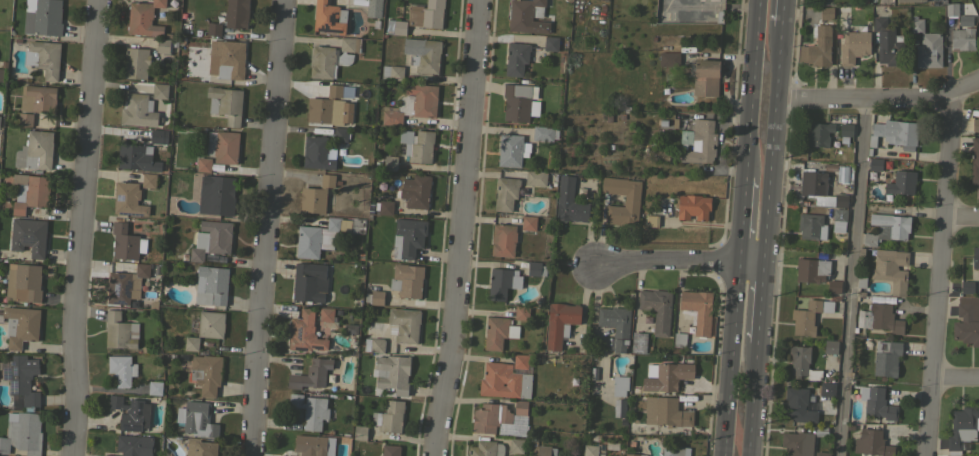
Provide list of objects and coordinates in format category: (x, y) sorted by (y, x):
building: (911, 0)
building: (373, 8)
building: (951, 8)
building: (978, 11)
building: (236, 13)
building: (826, 13)
building: (427, 14)
road: (782, 14)
building: (669, 15)
building: (527, 16)
building: (328, 17)
rooftop solar panel: (331, 17)
building: (44, 18)
building: (143, 18)
building: (965, 19)
building: (395, 26)
building: (217, 29)
rooftop solar panel: (326, 29)
building: (963, 38)
building: (550, 43)
building: (888, 43)
building: (163, 45)
building: (854, 45)
building: (926, 45)
building: (818, 47)
building: (422, 54)
building: (44, 57)
building: (331, 57)
building: (228, 58)
building: (516, 58)
building: (669, 59)
building: (136, 63)
building: (2, 71)
building: (392, 72)
building: (705, 76)
road: (747, 88)
building: (160, 91)
building: (40, 98)
road: (878, 99)
building: (518, 101)
building: (225, 103)
building: (412, 104)
building: (329, 107)
building: (138, 110)
building: (25, 119)
building: (0, 122)
building: (975, 124)
building: (846, 129)
building: (894, 132)
building: (542, 133)
building: (340, 134)
building: (818, 134)
building: (158, 135)
building: (698, 141)
road: (771, 143)
building: (417, 145)
building: (223, 146)
building: (511, 149)
building: (35, 151)
building: (318, 153)
building: (662, 154)
building: (137, 156)
building: (974, 160)
building: (390, 162)
building: (203, 164)
building: (875, 164)
building: (820, 166)
building: (831, 171)
building: (843, 174)
building: (536, 177)
building: (148, 180)
building: (901, 182)
building: (819, 189)
building: (30, 192)
building: (416, 193)
building: (506, 193)
building: (216, 195)
building: (316, 195)
rooftop solar panel: (120, 196)
building: (128, 199)
building: (631, 199)
building: (569, 202)
building: (693, 206)
building: (385, 207)
rooftop solar panel: (130, 213)
road: (963, 214)
building: (839, 215)
road: (737, 218)
building: (652, 220)
building: (528, 222)
building: (811, 226)
road: (82, 228)
road: (266, 228)
road: (460, 228)
building: (887, 228)
building: (838, 229)
building: (324, 235)
building: (29, 236)
building: (408, 236)
rooftop solar panel: (28, 238)
building: (211, 239)
building: (503, 240)
building: (126, 242)
road: (680, 258)
building: (975, 258)
building: (536, 268)
building: (812, 269)
building: (891, 269)
rooftop solar panel: (121, 273)
road: (943, 275)
road: (854, 277)
building: (407, 280)
building: (309, 282)
building: (502, 282)
building: (860, 282)
building: (23, 283)
building: (126, 284)
building: (211, 285)
building: (834, 286)
rooftop solar panel: (117, 287)
rooftop solar panel: (126, 287)
building: (966, 287)
building: (374, 297)
rooftop solar panel: (120, 300)
road: (762, 301)
building: (657, 309)
building: (698, 310)
building: (521, 313)
building: (326, 314)
building: (809, 316)
building: (879, 318)
building: (967, 320)
building: (559, 322)
building: (210, 324)
building: (404, 324)
building: (20, 325)
building: (616, 325)
building: (120, 331)
rooftop solar panel: (299, 332)
building: (304, 332)
building: (498, 332)
building: (679, 339)
building: (638, 342)
building: (191, 343)
building: (374, 344)
rooftop solar panel: (315, 346)
rooftop solar panel: (300, 347)
building: (830, 347)
road: (726, 357)
building: (886, 358)
rooftop solar panel: (12, 362)
building: (801, 363)
building: (121, 369)
rooftop solar panel: (14, 370)
rooftop solar panel: (7, 372)
building: (206, 373)
building: (392, 373)
building: (311, 374)
building: (666, 376)
road: (957, 376)
building: (506, 378)
building: (23, 380)
building: (619, 385)
rooftop solar panel: (12, 386)
building: (155, 388)
building: (826, 389)
road: (754, 399)
building: (876, 402)
building: (799, 405)
building: (520, 407)
building: (310, 410)
building: (131, 412)
building: (666, 412)
building: (389, 417)
building: (489, 417)
building: (196, 419)
building: (962, 428)
building: (360, 432)
building: (22, 433)
building: (801, 441)
building: (871, 443)
building: (134, 445)
building: (311, 445)
building: (515, 445)
building: (200, 447)
building: (485, 448)
building: (390, 450)
building: (589, 450)
building: (672, 450)
building: (546, 451)
building: (822, 453)
building: (634, 454)
building: (109, 455)
building: (285, 455)

